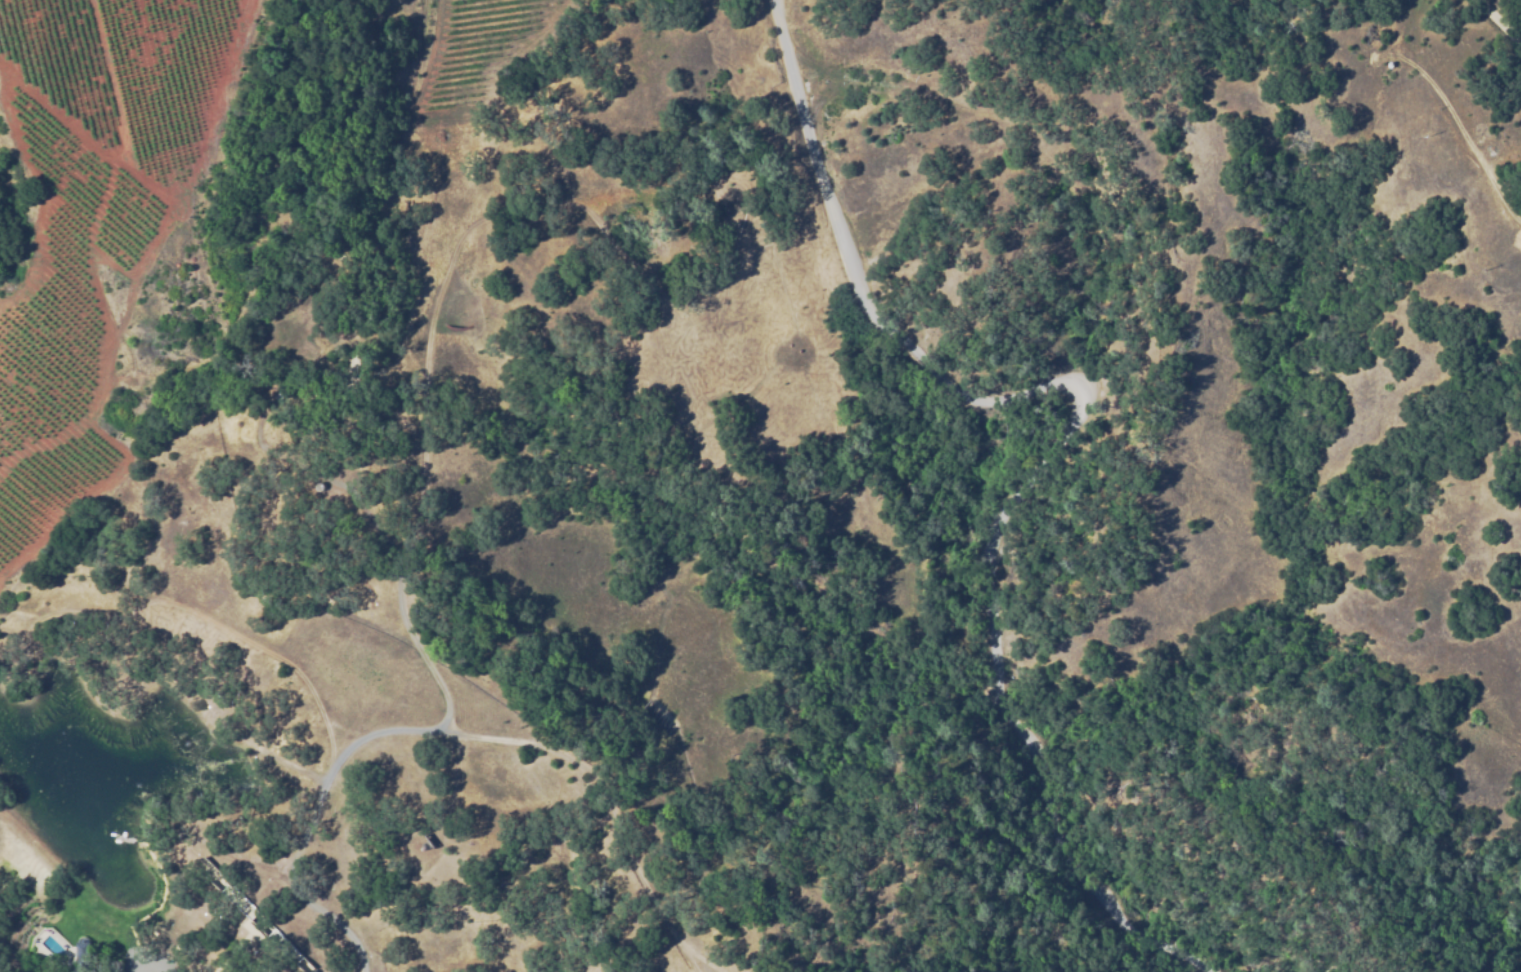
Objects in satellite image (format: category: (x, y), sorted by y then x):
road: (1501, 24)
road: (1044, 454)
road: (302, 806)
building: (256, 919)
building: (92, 960)

